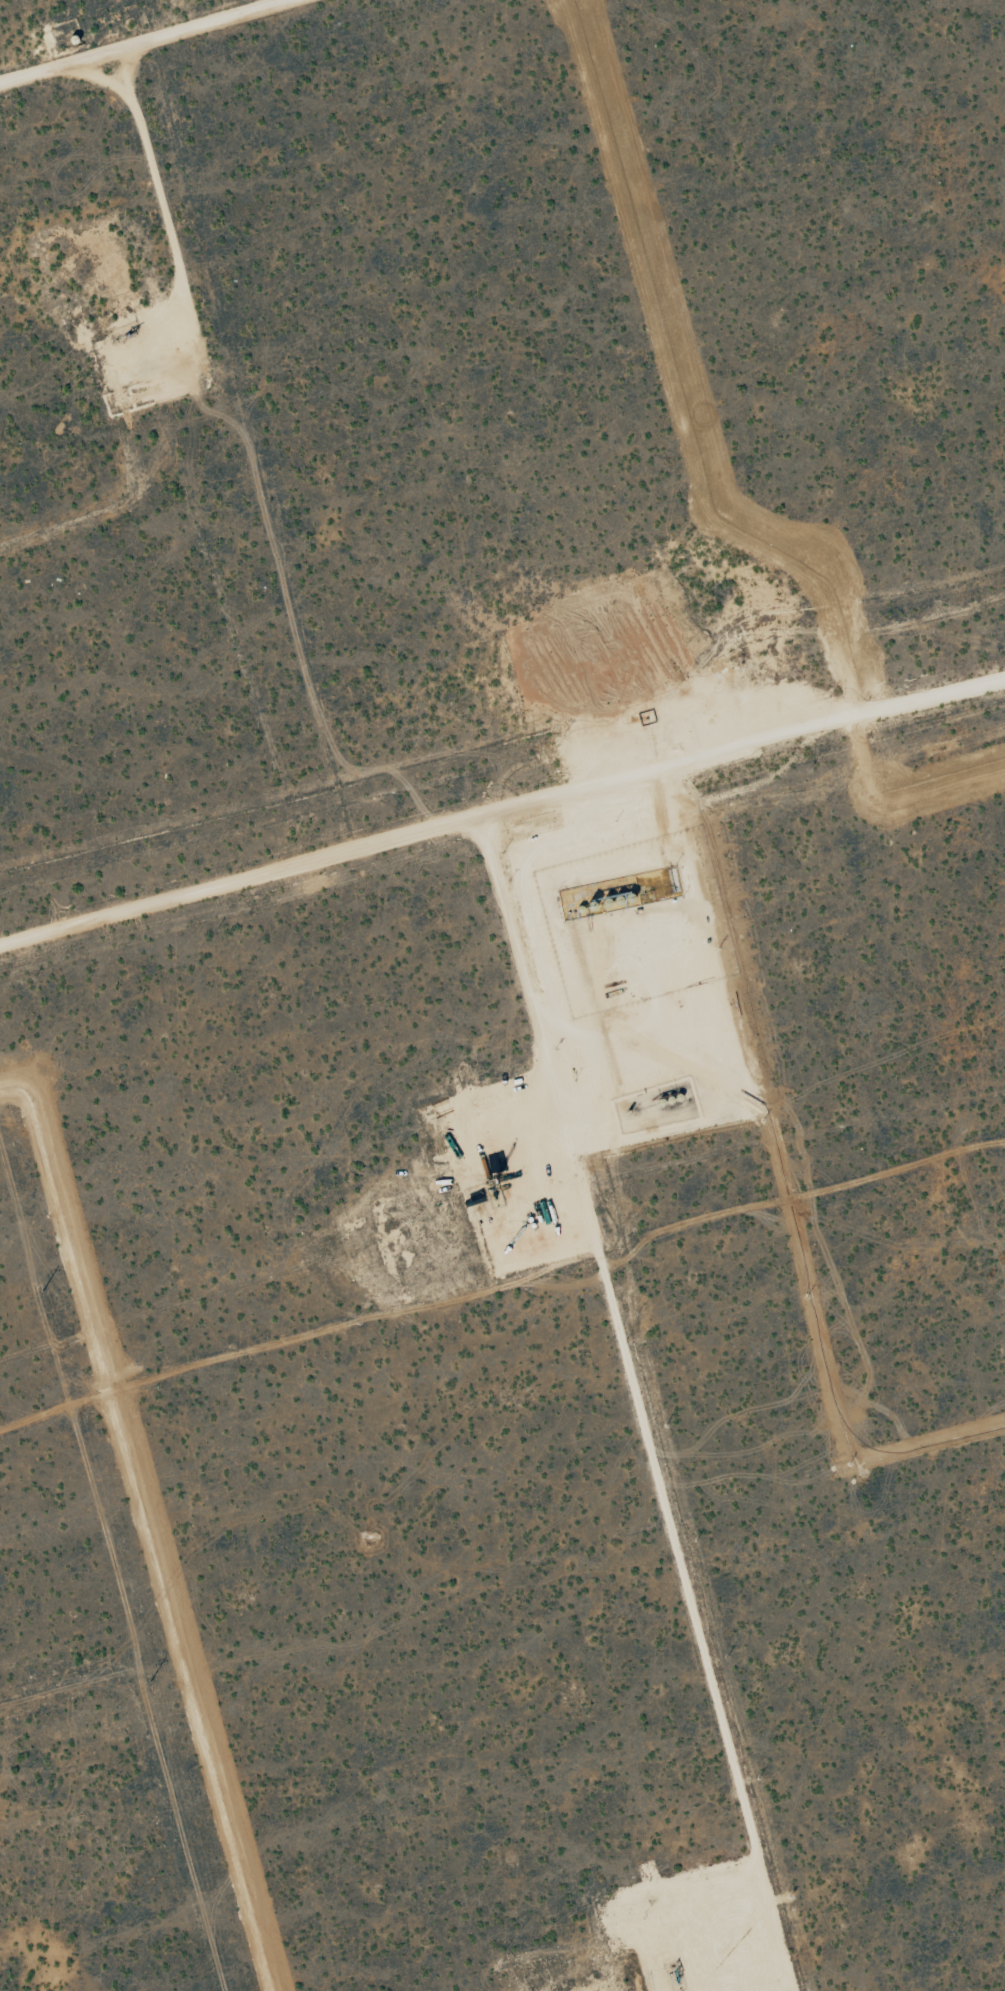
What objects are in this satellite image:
road: (105, 55)
power tower: (37, 1291)
road: (502, 1598)
power tower: (148, 1681)

